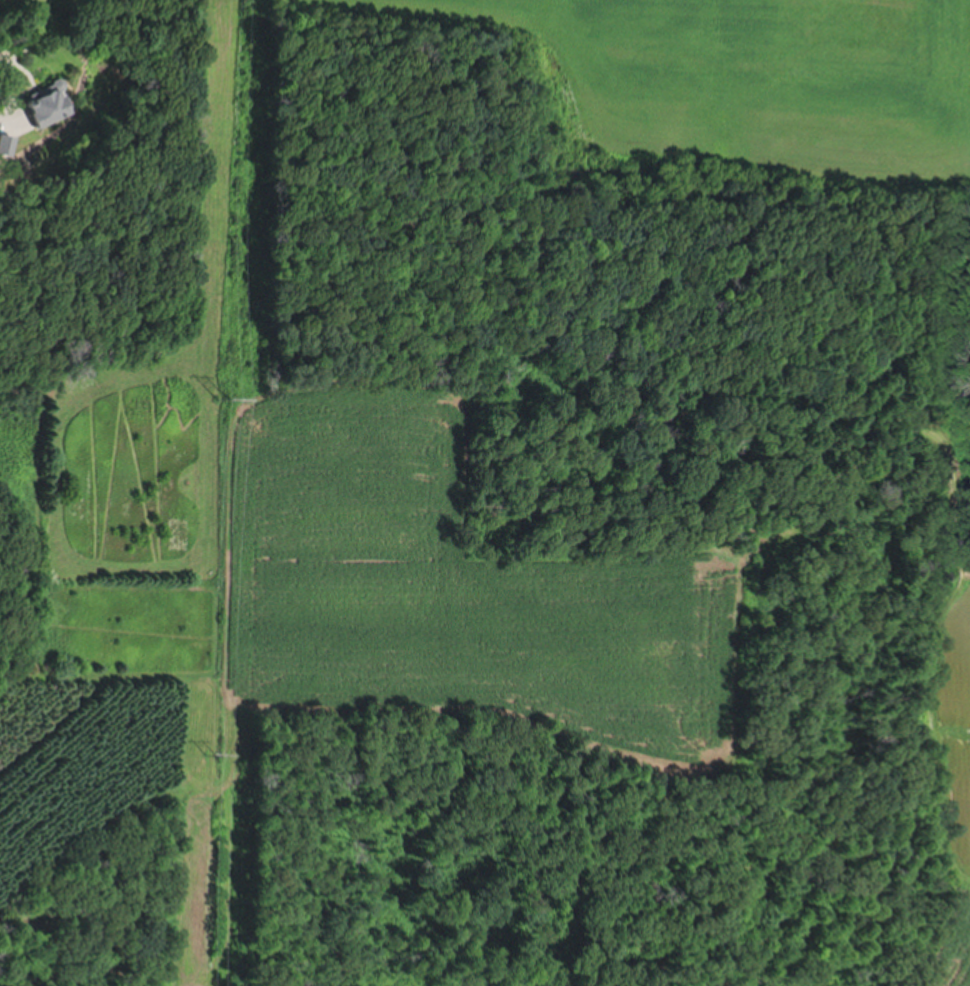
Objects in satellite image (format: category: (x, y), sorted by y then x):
road: (4, 83)
power tower: (222, 398)
power tower: (212, 754)

